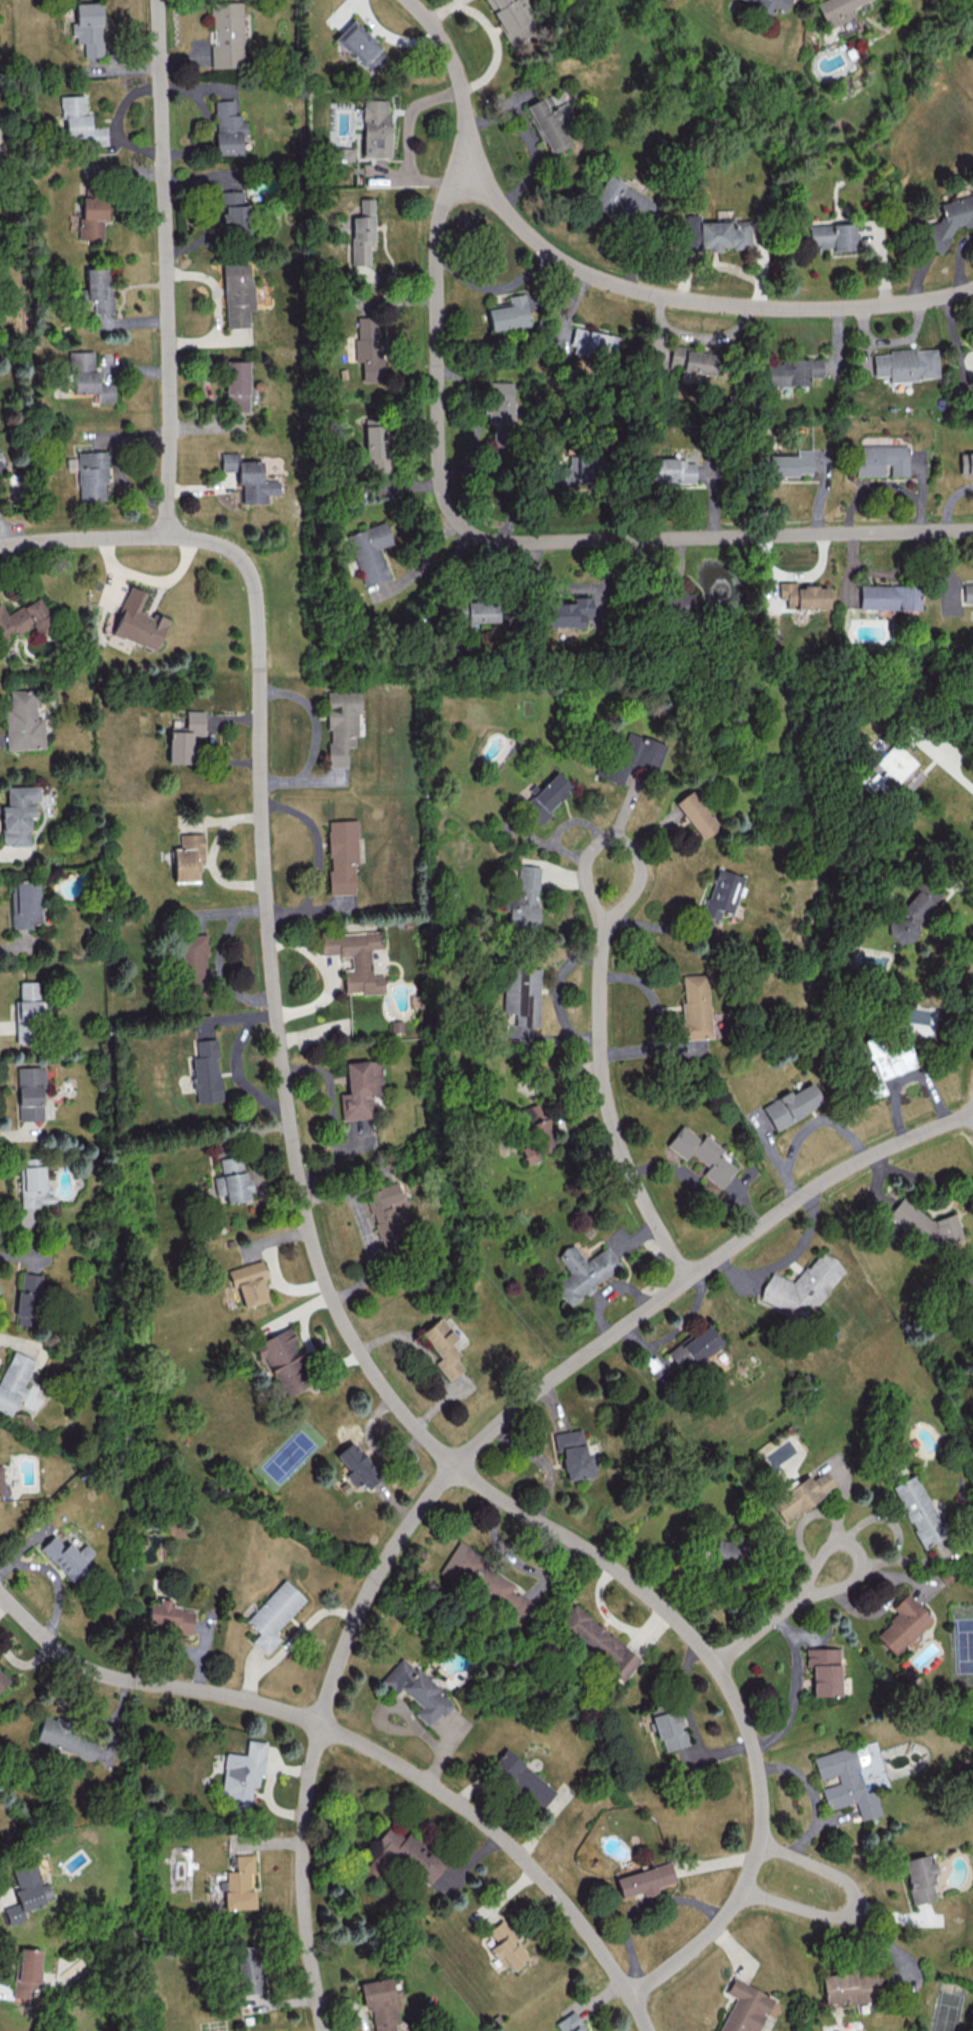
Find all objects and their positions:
building: (836, 12)
building: (512, 20)
building: (88, 28)
building: (226, 34)
building: (361, 46)
building: (81, 120)
building: (550, 121)
building: (227, 127)
building: (375, 129)
building: (343, 153)
building: (623, 200)
building: (233, 209)
building: (93, 217)
building: (946, 222)
building: (362, 232)
building: (716, 233)
building: (830, 236)
road: (162, 267)
road: (610, 282)
building: (98, 288)
building: (237, 294)
building: (509, 313)
building: (594, 344)
building: (368, 348)
building: (693, 360)
building: (906, 364)
building: (792, 371)
building: (88, 377)
building: (236, 385)
building: (499, 402)
building: (375, 440)
building: (881, 459)
building: (790, 463)
building: (969, 463)
building: (579, 469)
building: (668, 470)
building: (92, 475)
building: (248, 477)
road: (514, 540)
building: (369, 551)
road: (888, 575)
building: (968, 593)
building: (802, 595)
building: (889, 596)
building: (677, 604)
building: (485, 610)
building: (567, 612)
building: (24, 620)
building: (138, 621)
building: (23, 721)
building: (340, 724)
building: (184, 737)
building: (631, 757)
building: (894, 763)
road: (946, 763)
building: (545, 797)
building: (17, 814)
building: (697, 814)
road: (614, 839)
building: (187, 857)
building: (341, 857)
road: (317, 858)
building: (722, 893)
building: (524, 899)
building: (24, 904)
building: (913, 912)
building: (354, 959)
building: (191, 963)
building: (521, 995)
building: (694, 1006)
building: (29, 1013)
building: (887, 1058)
building: (205, 1071)
building: (360, 1088)
building: (30, 1093)
building: (792, 1105)
road: (610, 1106)
building: (538, 1129)
building: (702, 1154)
road: (920, 1177)
building: (232, 1180)
building: (33, 1186)
building: (385, 1213)
building: (927, 1228)
road: (364, 1231)
road: (317, 1267)
building: (583, 1271)
building: (248, 1282)
building: (802, 1287)
building: (26, 1298)
road: (306, 1341)
building: (442, 1347)
building: (694, 1348)
building: (283, 1361)
road: (427, 1361)
building: (13, 1380)
road: (372, 1445)
road: (462, 1455)
building: (573, 1455)
building: (356, 1465)
building: (1, 1480)
building: (801, 1494)
building: (919, 1510)
building: (67, 1557)
building: (485, 1581)
building: (273, 1614)
road: (774, 1615)
building: (168, 1617)
building: (902, 1624)
road: (290, 1638)
building: (598, 1641)
building: (823, 1670)
building: (3, 1680)
road: (792, 1688)
building: (417, 1690)
road: (691, 1721)
building: (668, 1729)
building: (66, 1737)
road: (366, 1746)
building: (243, 1773)
building: (522, 1778)
building: (845, 1782)
building: (401, 1856)
building: (920, 1878)
building: (645, 1879)
building: (240, 1884)
building: (27, 1892)
road: (853, 1904)
road: (637, 1910)
building: (506, 1946)
building: (26, 1972)
building: (248, 1974)
building: (849, 1987)
building: (380, 2005)
building: (745, 2007)
building: (569, 2023)

